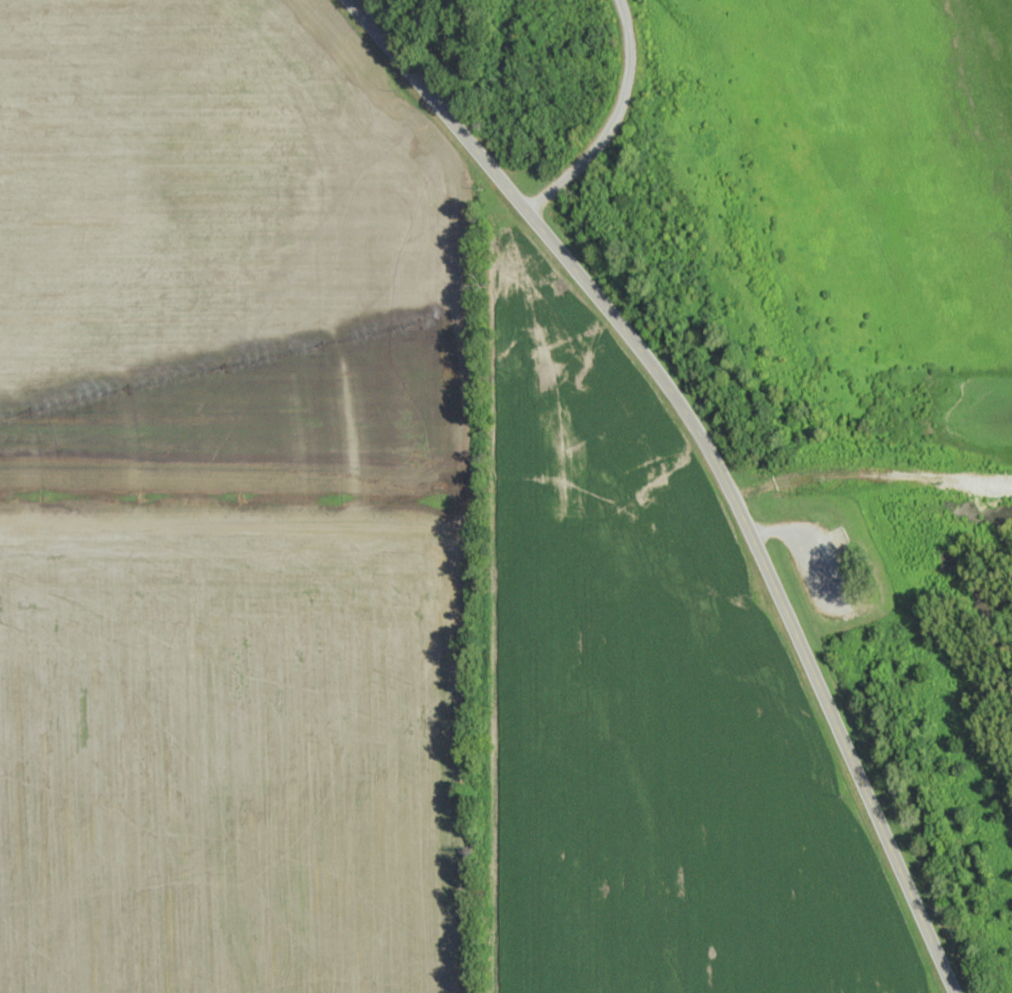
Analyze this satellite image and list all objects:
road: (615, 121)
road: (714, 457)
road: (872, 473)
road: (230, 537)
road: (806, 541)

